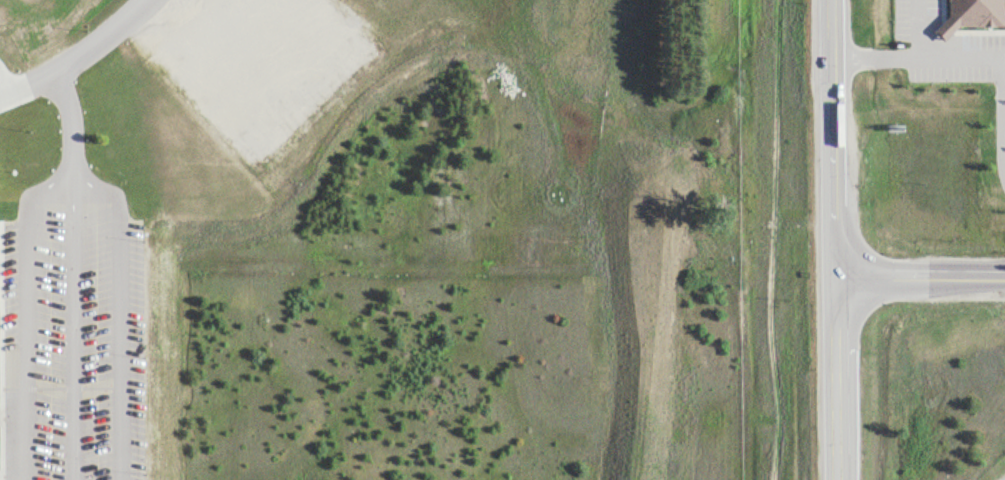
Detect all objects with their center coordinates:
building: (967, 13)
road: (946, 26)
road: (917, 28)
road: (77, 56)
road: (969, 57)
road: (6, 77)
road: (832, 138)
road: (71, 186)
building: (1000, 205)
road: (774, 239)
road: (73, 273)
road: (920, 276)
parking lot: (71, 333)
road: (837, 378)

